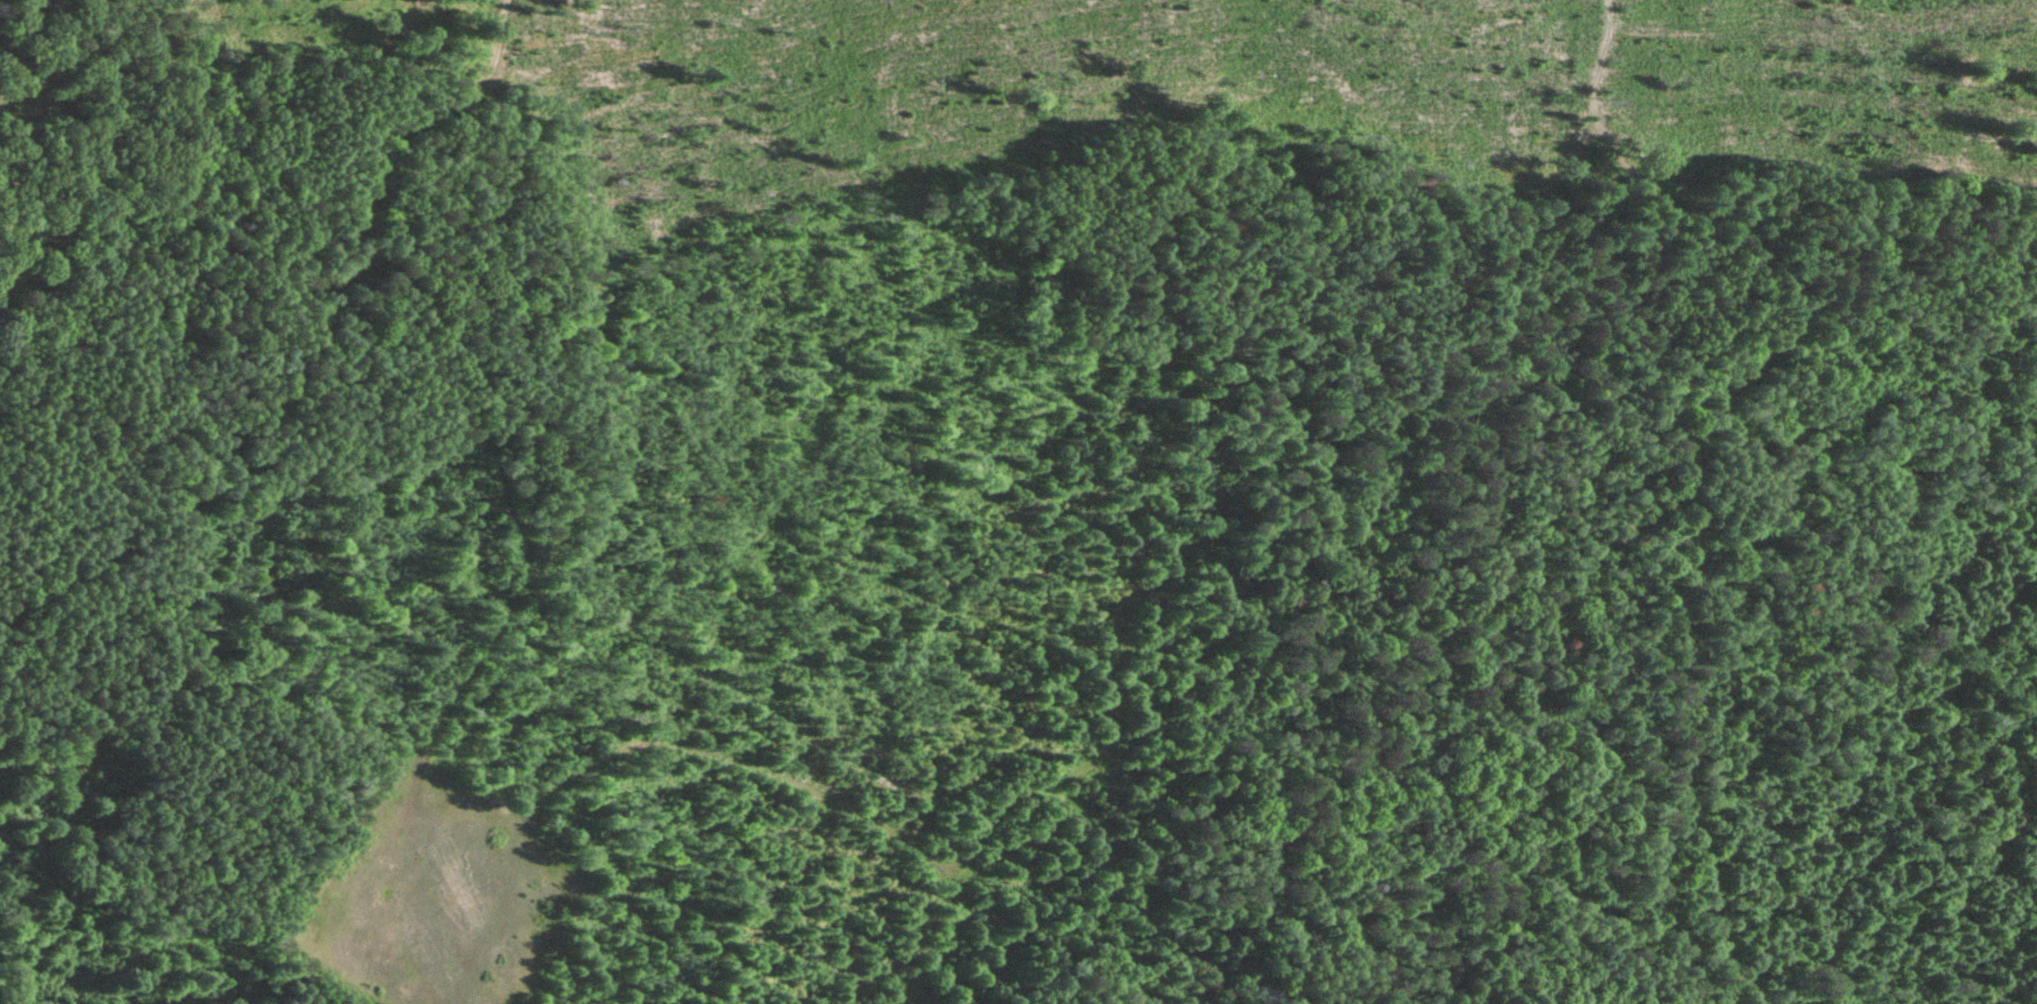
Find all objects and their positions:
road: (1607, 63)
road: (311, 344)

